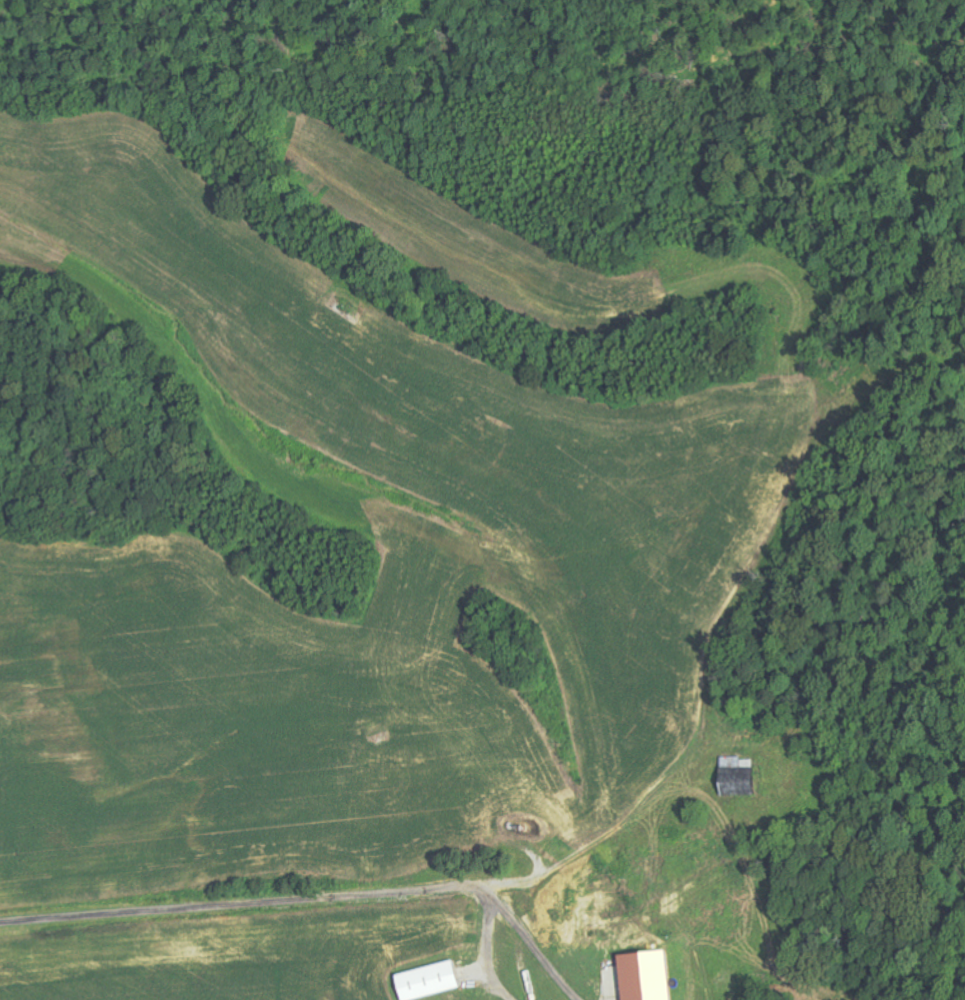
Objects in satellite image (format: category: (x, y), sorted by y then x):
building: (741, 772)
road: (266, 901)
building: (653, 976)
building: (436, 981)

